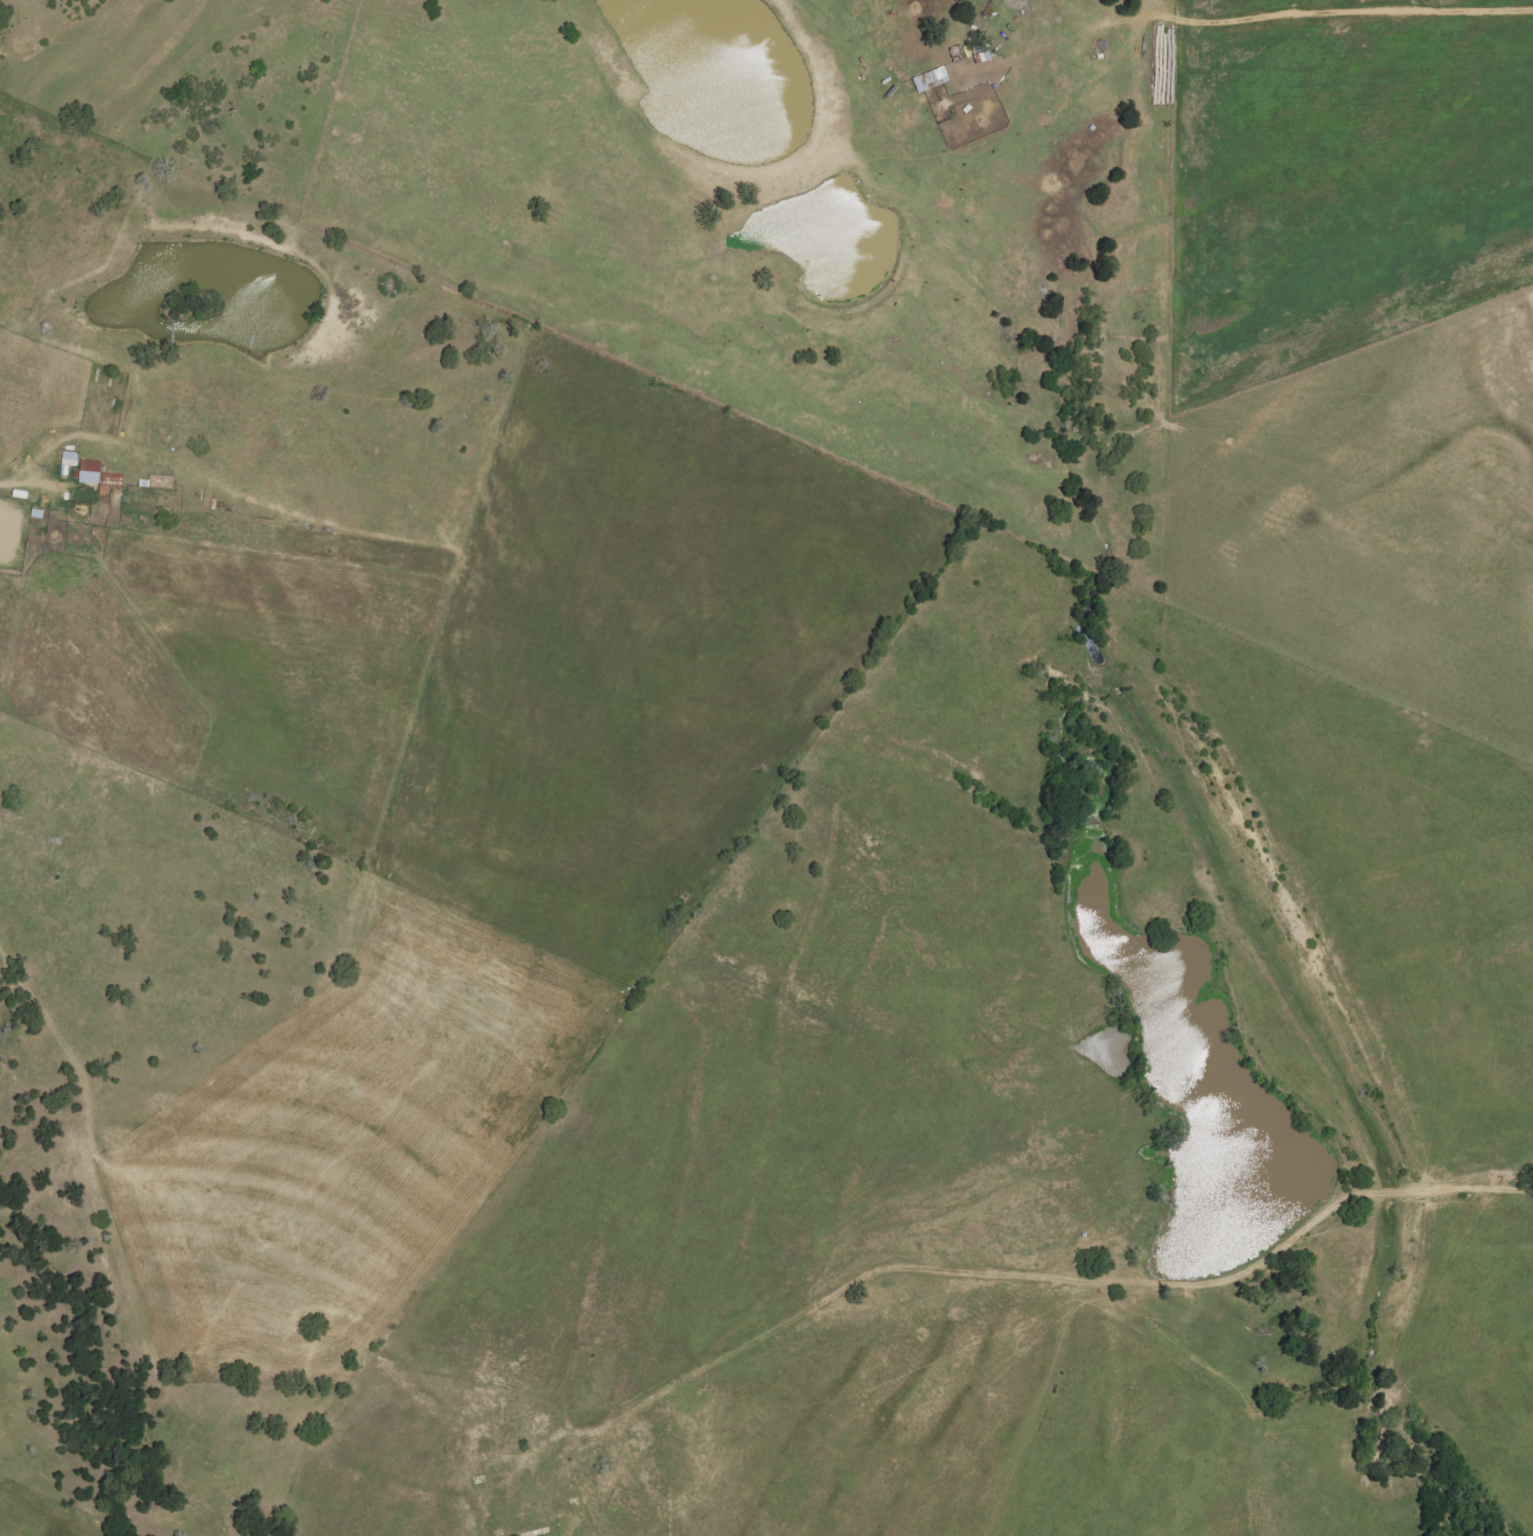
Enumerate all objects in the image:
building: (931, 80)
building: (98, 474)
road: (10, 483)
road: (1298, 1417)

